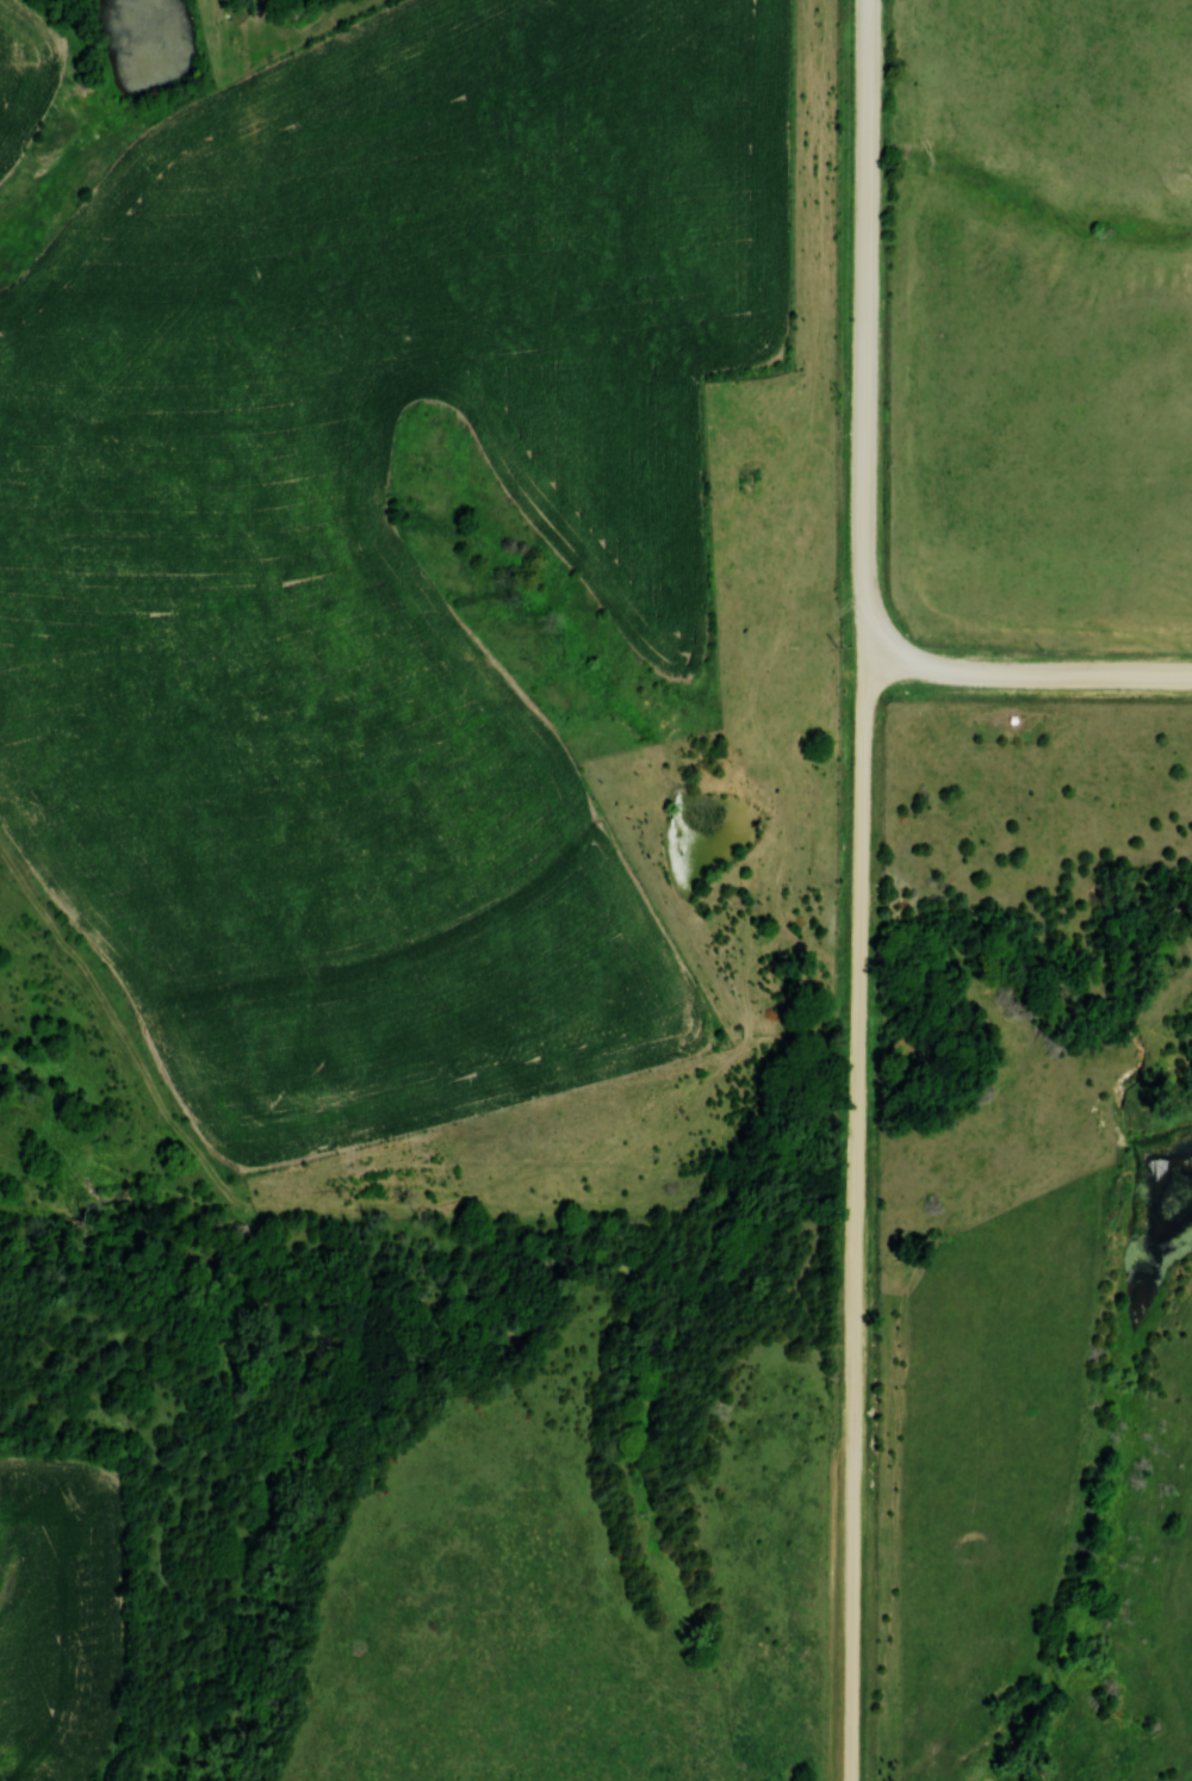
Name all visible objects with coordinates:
road: (867, 324)
road: (1037, 669)
road: (861, 1208)

